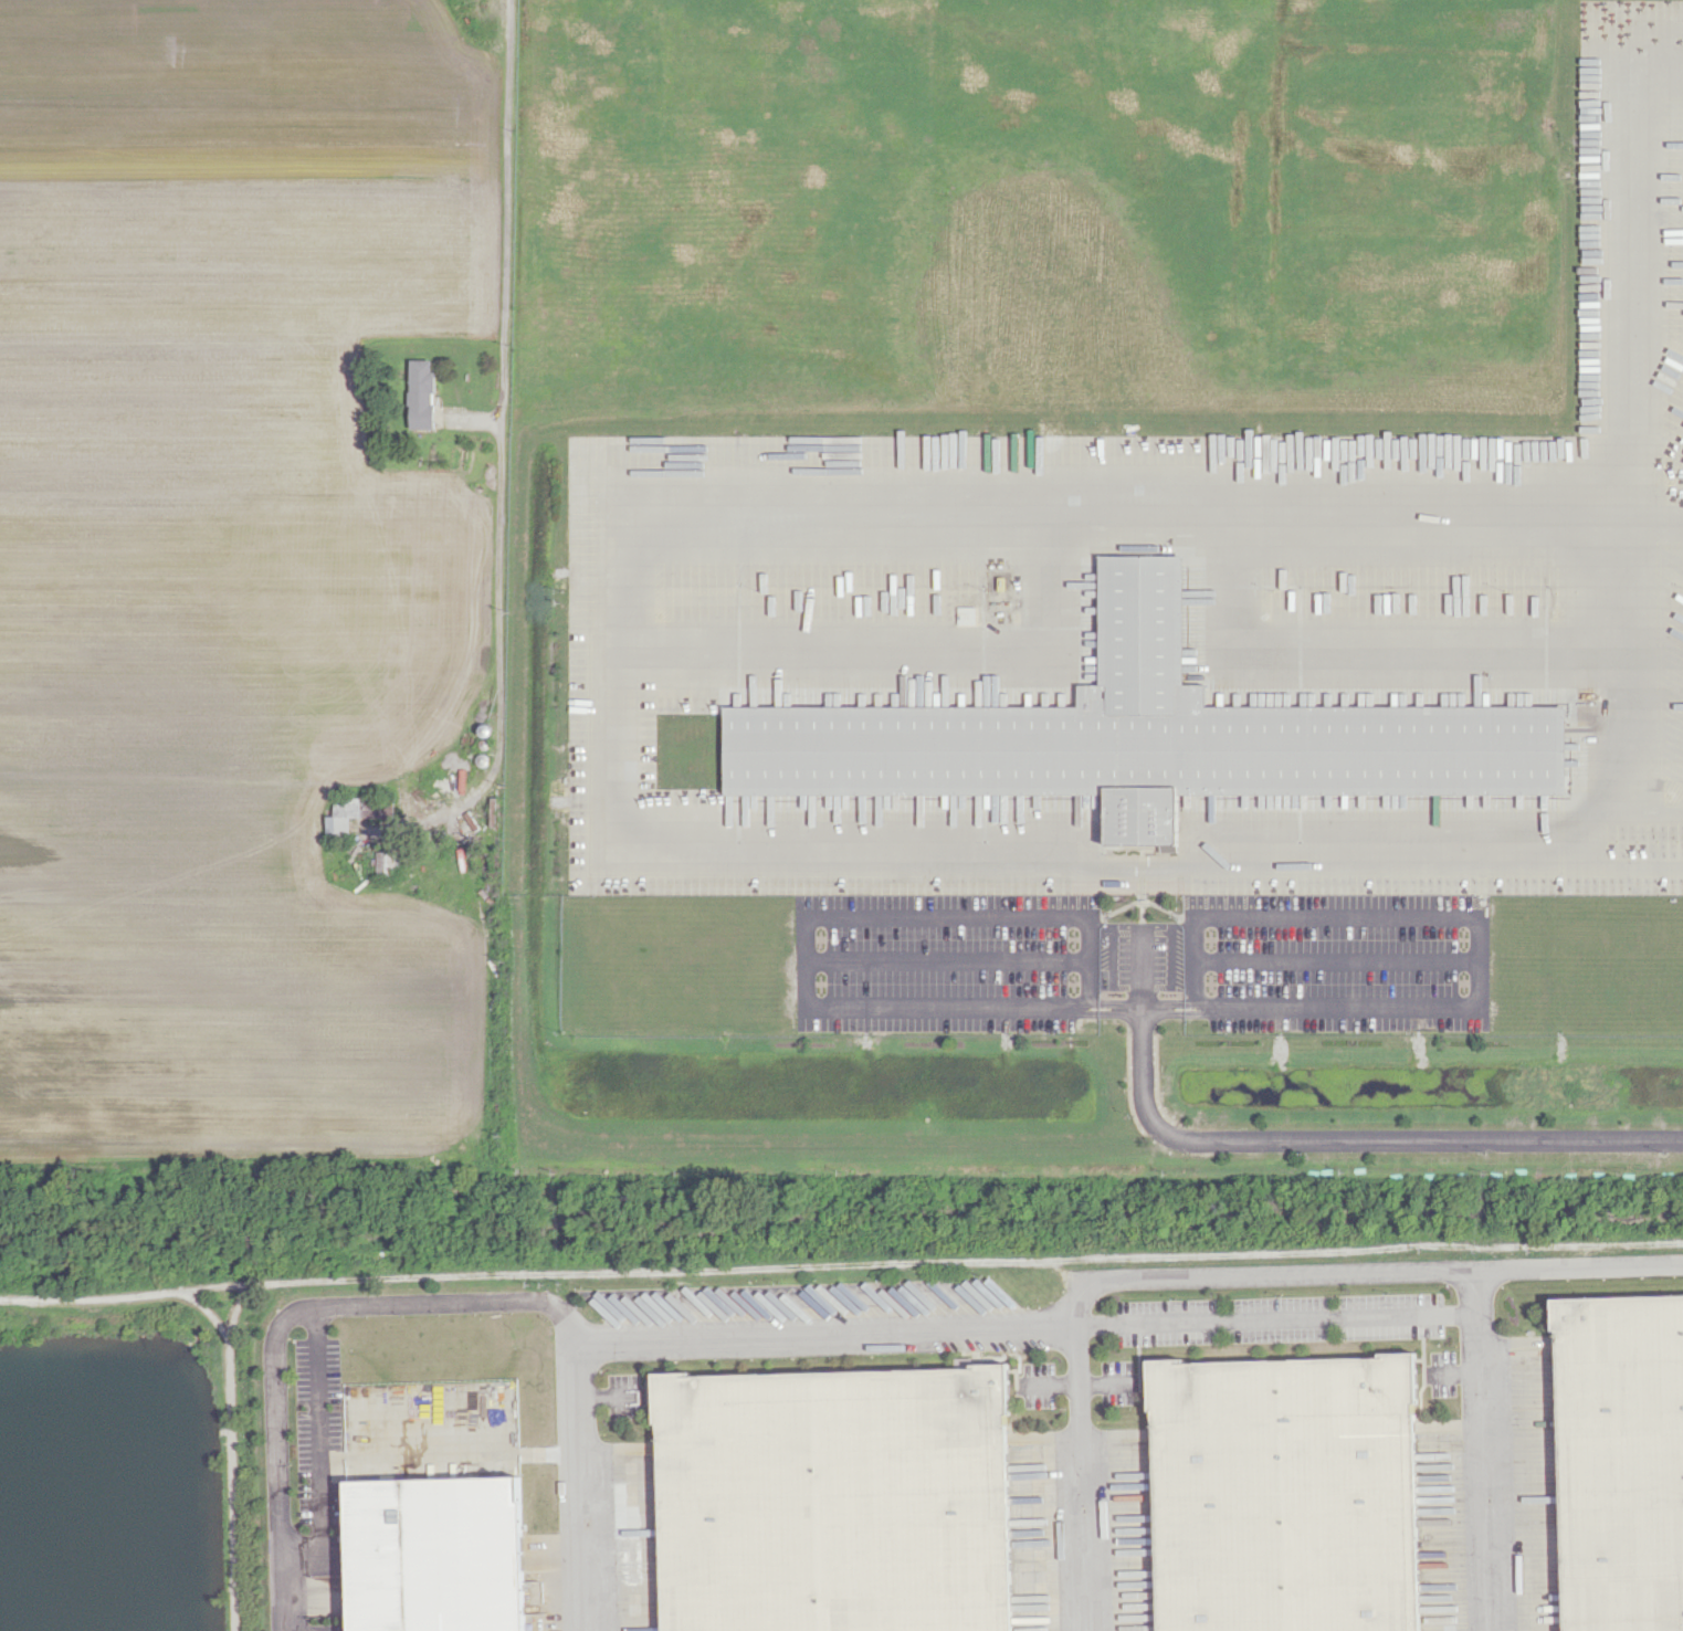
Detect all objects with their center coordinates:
road: (1631, 263)
building: (421, 394)
road: (503, 464)
building: (1144, 735)
road: (1654, 809)
building: (343, 815)
road: (624, 857)
building: (388, 862)
road: (1631, 866)
road: (1477, 940)
road: (808, 944)
road: (1318, 1136)
road: (965, 1260)
road: (213, 1287)
road: (90, 1297)
road: (235, 1308)
road: (1275, 1319)
road: (828, 1335)
road: (319, 1448)
road: (229, 1449)
road: (1484, 1449)
building: (1621, 1462)
road: (1074, 1471)
road: (568, 1474)
building: (1286, 1494)
building: (835, 1501)
building: (436, 1554)

